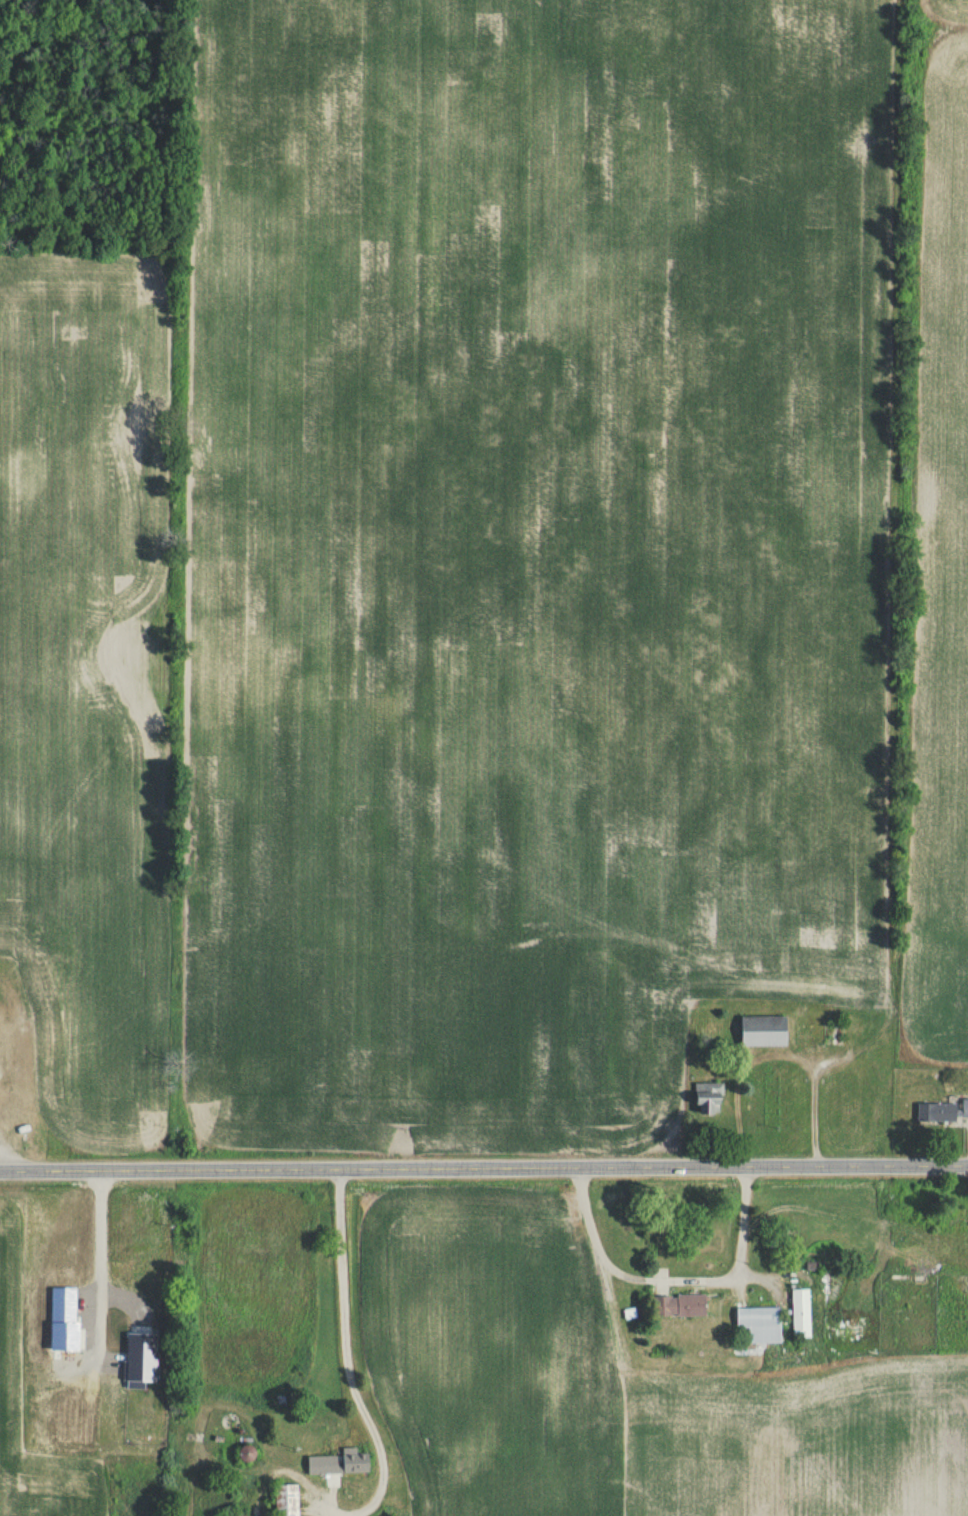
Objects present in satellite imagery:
building: (760, 1035)
building: (705, 1102)
building: (941, 1115)
road: (483, 1171)
road: (98, 1260)
road: (672, 1284)
building: (678, 1309)
building: (797, 1317)
building: (757, 1327)
road: (345, 1356)
building: (241, 1457)
building: (337, 1467)
building: (282, 1502)
road: (325, 1515)

